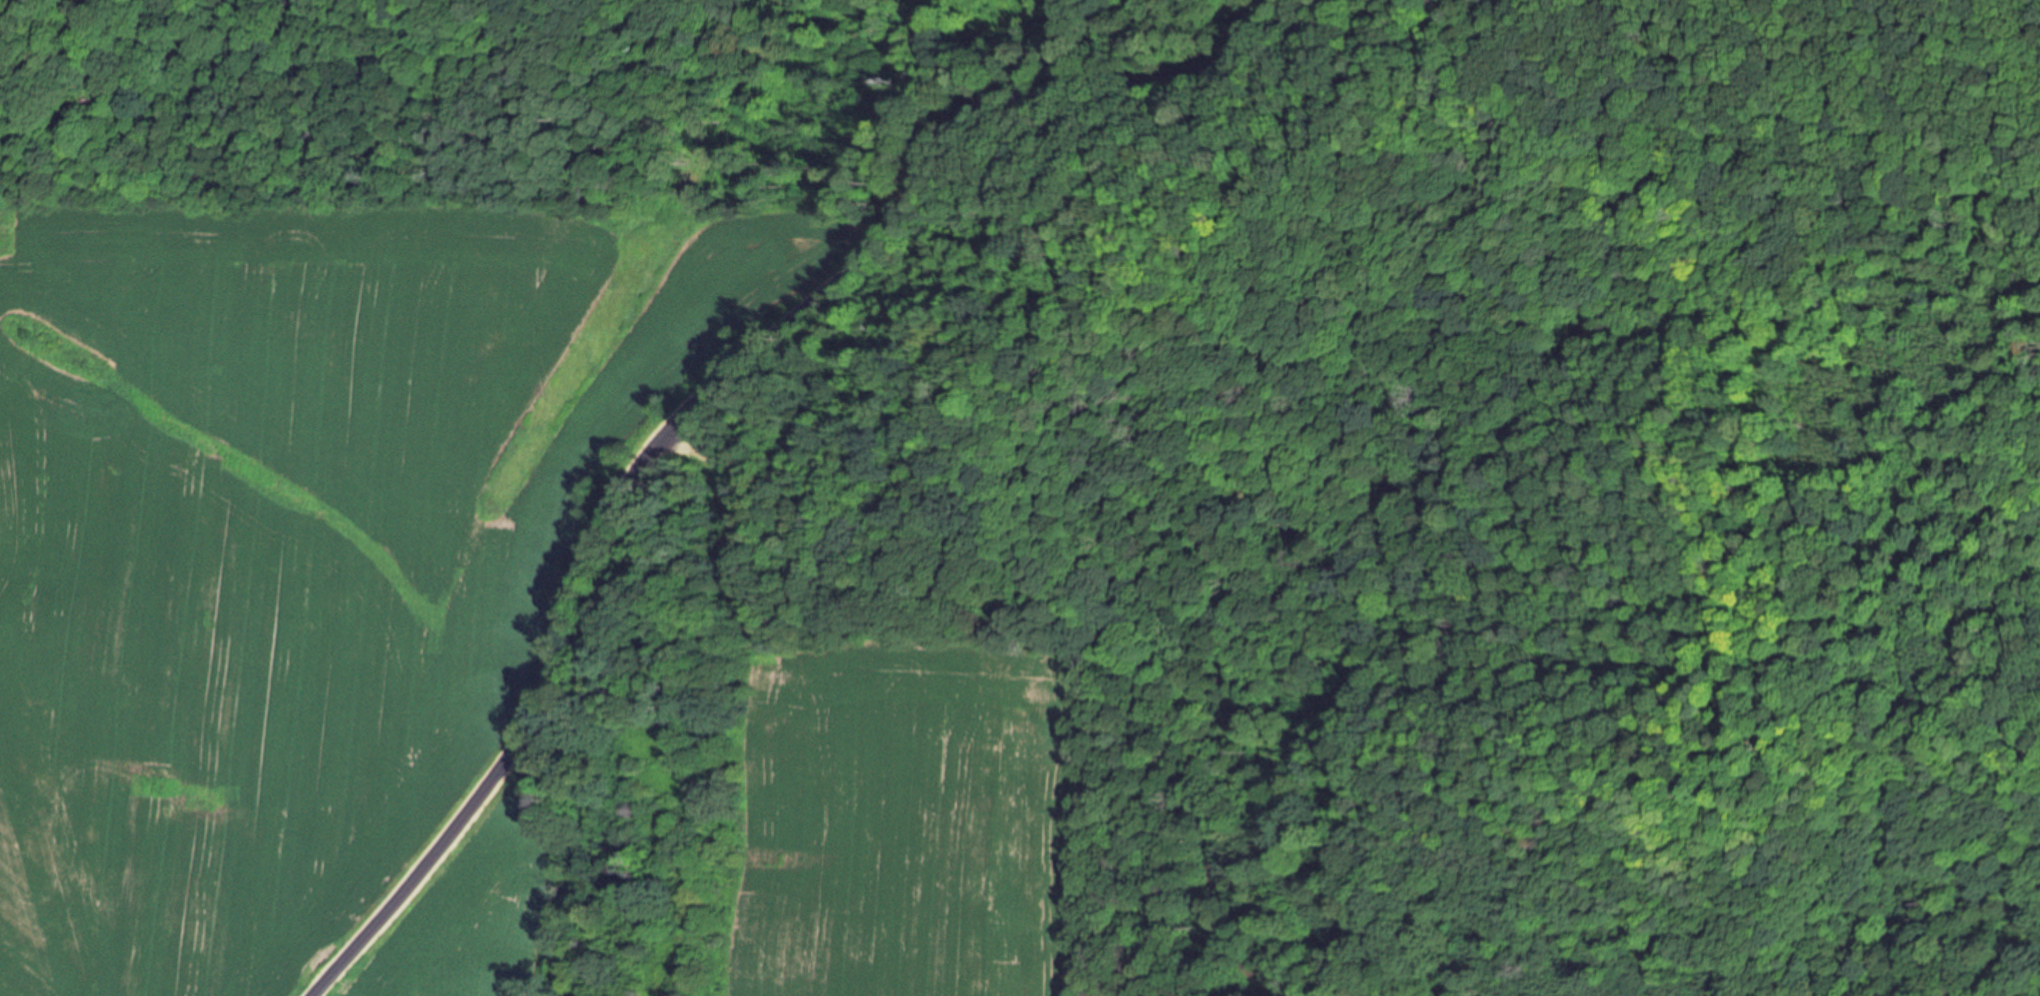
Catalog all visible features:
road: (1058, 91)
park: (1591, 91)
road: (589, 587)

